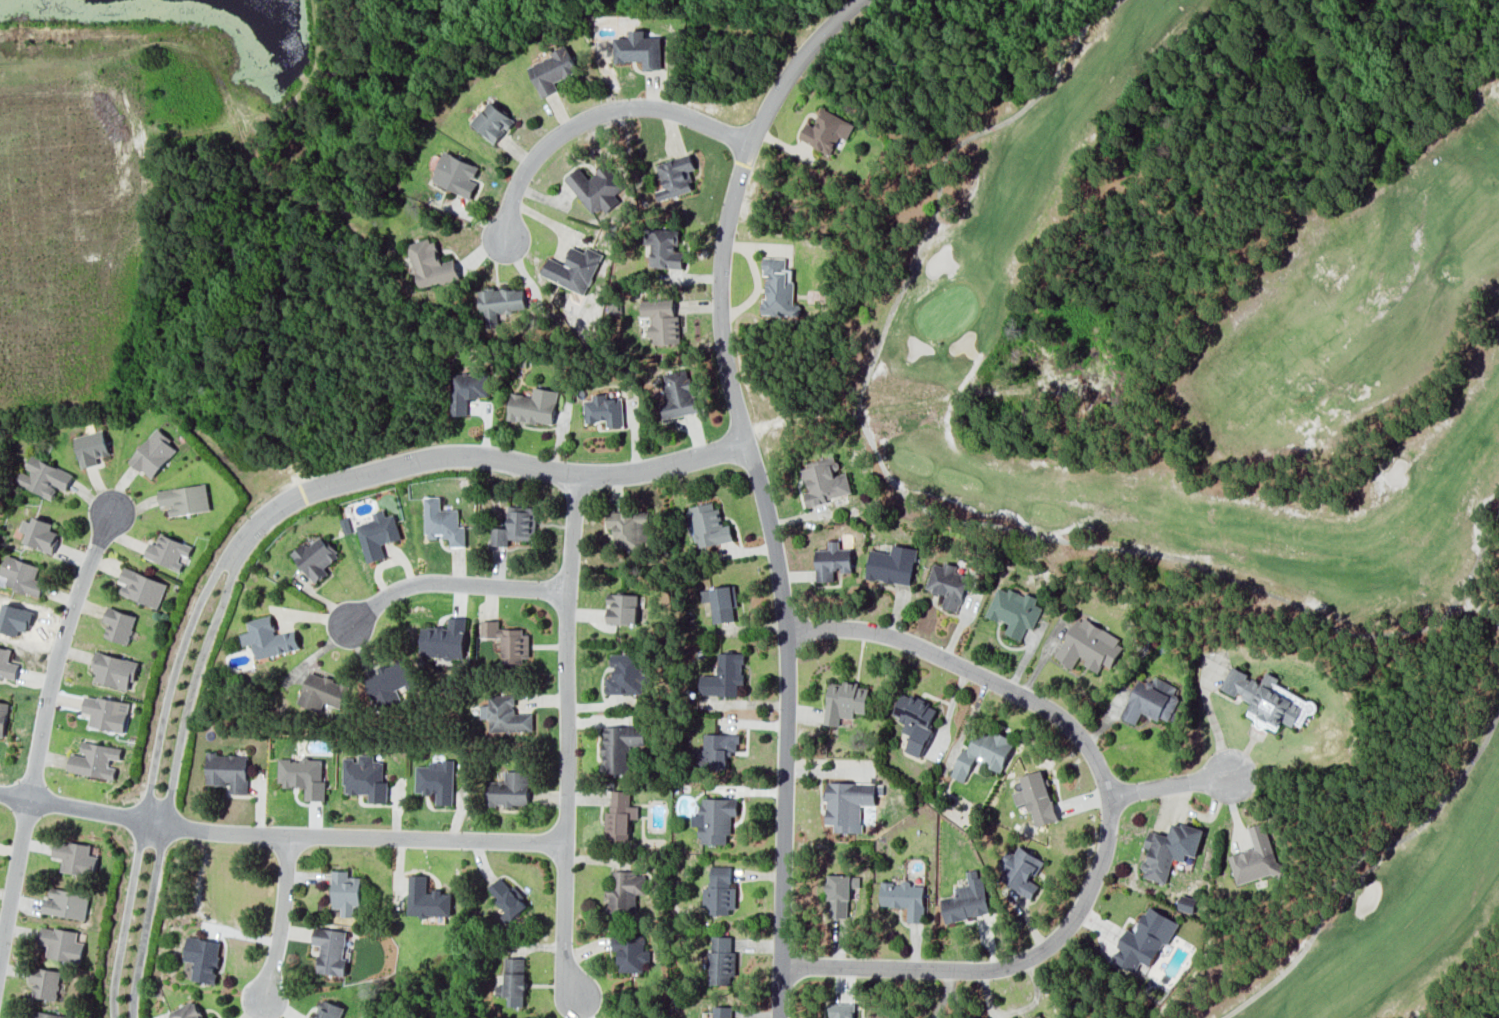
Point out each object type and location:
building: (640, 49)
building: (552, 70)
road: (594, 104)
building: (493, 121)
building: (827, 130)
building: (456, 174)
building: (675, 176)
building: (597, 187)
building: (664, 248)
building: (431, 263)
building: (574, 269)
building: (778, 288)
building: (501, 302)
building: (661, 320)
park: (1226, 380)
building: (467, 390)
building: (678, 393)
building: (534, 406)
building: (604, 410)
building: (91, 447)
building: (153, 453)
building: (44, 477)
building: (824, 482)
road: (759, 487)
building: (185, 499)
building: (443, 522)
road: (253, 523)
building: (516, 525)
building: (709, 525)
building: (629, 527)
building: (39, 533)
building: (378, 534)
building: (168, 551)
building: (315, 556)
building: (832, 561)
building: (893, 564)
building: (22, 575)
road: (451, 581)
building: (948, 584)
building: (142, 587)
building: (723, 603)
building: (622, 608)
building: (1014, 610)
building: (119, 625)
building: (489, 628)
building: (269, 637)
building: (444, 639)
building: (1088, 645)
building: (515, 646)
building: (7, 664)
building: (115, 670)
building: (626, 674)
building: (725, 675)
building: (390, 682)
building: (322, 691)
building: (1152, 700)
building: (1268, 700)
building: (845, 701)
building: (106, 713)
building: (505, 715)
building: (3, 716)
building: (915, 721)
road: (42, 732)
road: (565, 735)
building: (619, 746)
building: (717, 750)
building: (984, 752)
building: (95, 759)
building: (229, 771)
building: (303, 775)
building: (365, 777)
road: (1188, 777)
building: (436, 780)
building: (508, 789)
building: (1036, 797)
building: (849, 803)
building: (620, 815)
road: (1111, 818)
building: (715, 819)
road: (280, 832)
building: (1169, 849)
building: (75, 857)
building: (1255, 857)
building: (1021, 870)
building: (625, 890)
building: (721, 890)
building: (345, 891)
building: (840, 893)
building: (507, 896)
building: (426, 898)
building: (904, 898)
building: (67, 903)
building: (1186, 903)
road: (280, 917)
building: (1145, 939)
building: (62, 943)
building: (330, 950)
building: (630, 952)
building: (202, 958)
building: (722, 959)
building: (513, 981)
building: (45, 982)
building: (329, 1009)
building: (841, 1010)
building: (186, 1011)
building: (723, 1012)
building: (49, 1014)
building: (1038, 1016)
building: (211, 1017)

